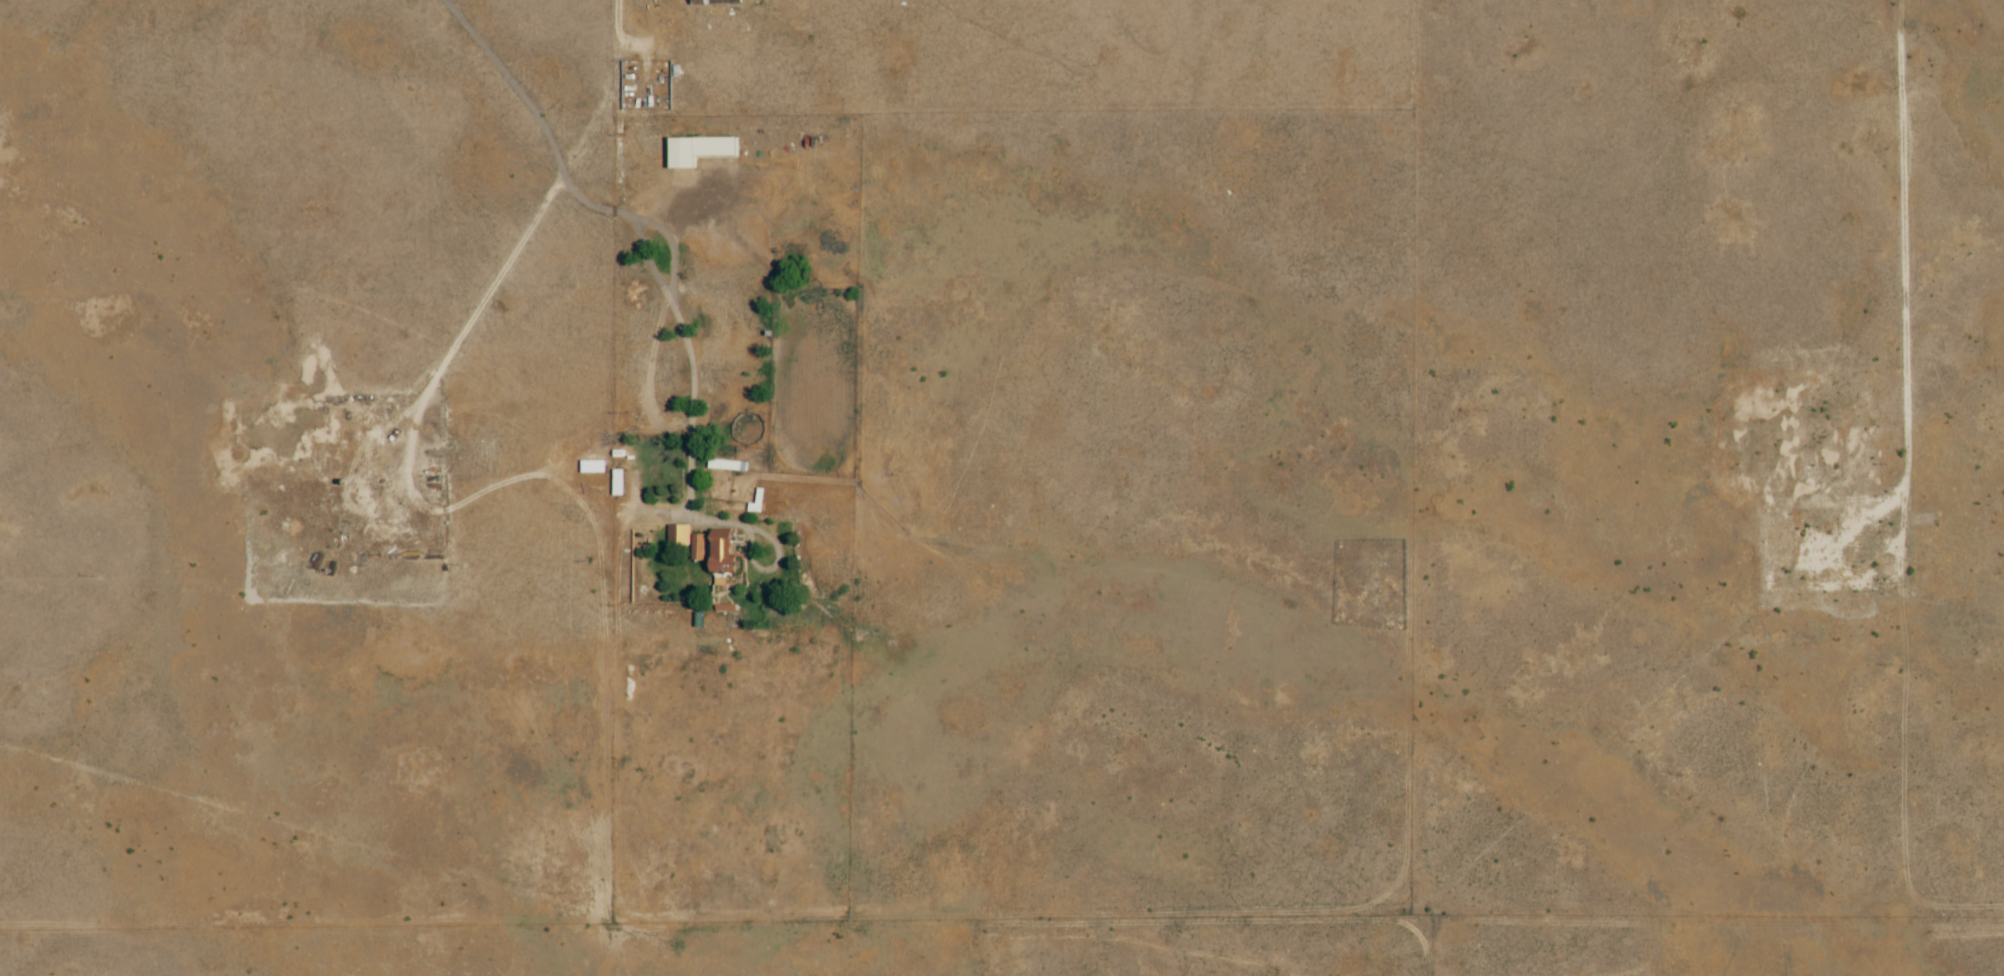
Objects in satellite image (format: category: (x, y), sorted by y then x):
building: (697, 151)
road: (656, 277)
road: (1920, 283)
road: (457, 372)

